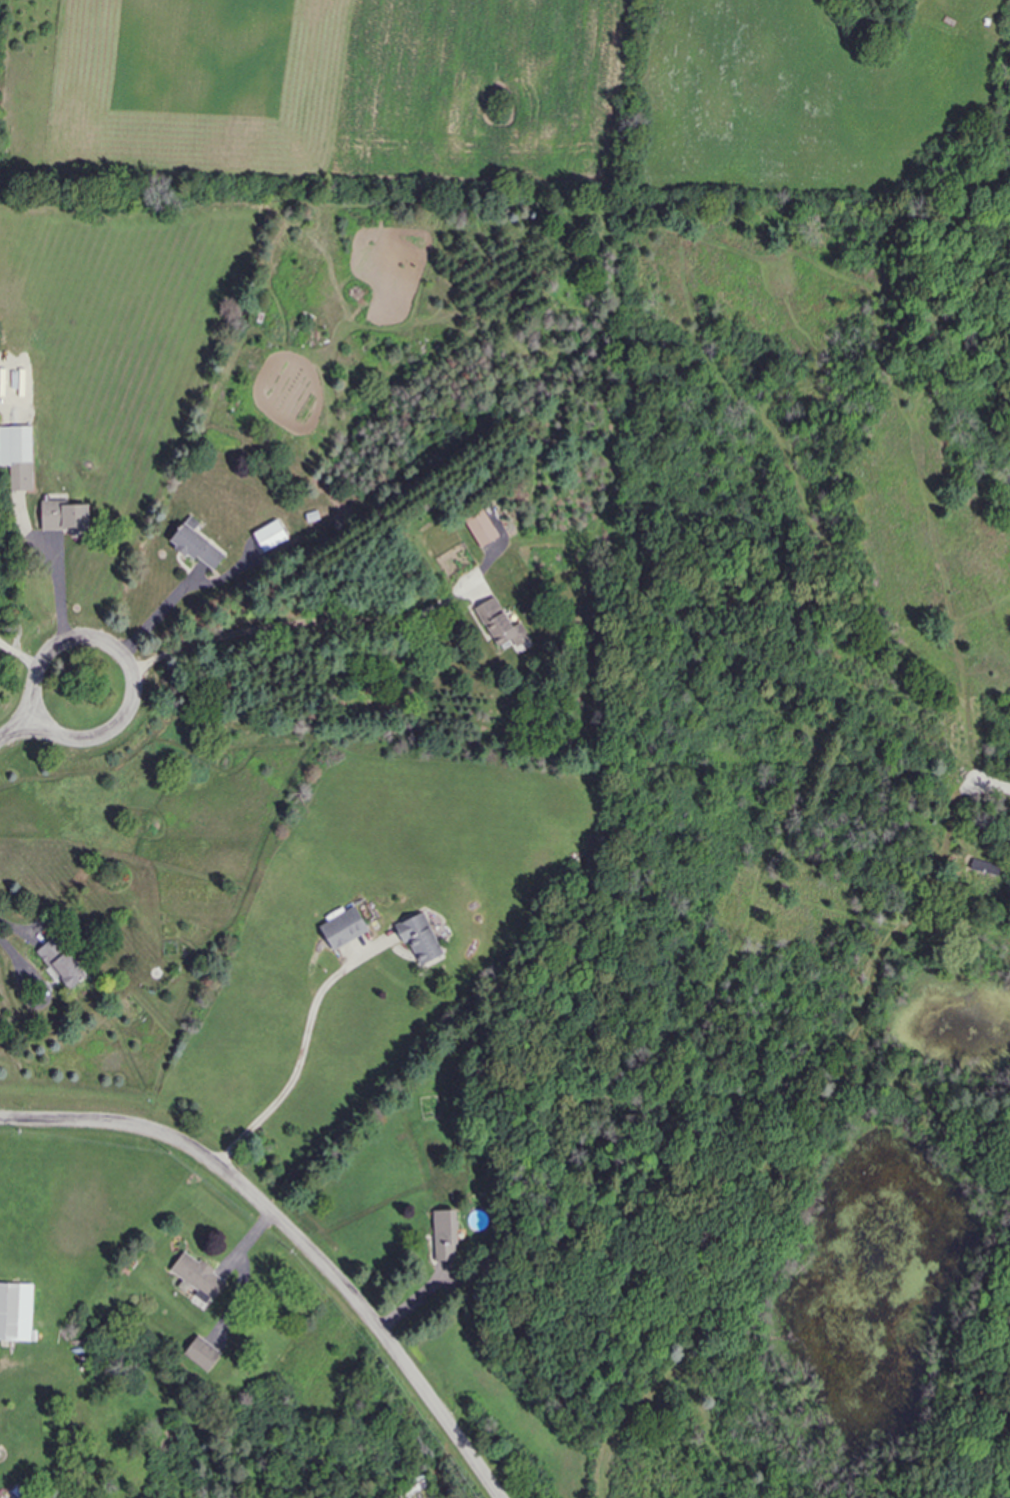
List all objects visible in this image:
building: (17, 456)
building: (63, 516)
building: (481, 528)
building: (270, 536)
building: (197, 545)
road: (62, 614)
building: (500, 624)
road: (279, 625)
road: (147, 626)
road: (39, 667)
road: (49, 716)
road: (998, 783)
building: (984, 867)
road: (18, 926)
building: (344, 928)
building: (419, 938)
building: (61, 963)
road: (300, 1057)
road: (296, 1234)
building: (445, 1235)
building: (197, 1277)
building: (15, 1312)
building: (202, 1353)

